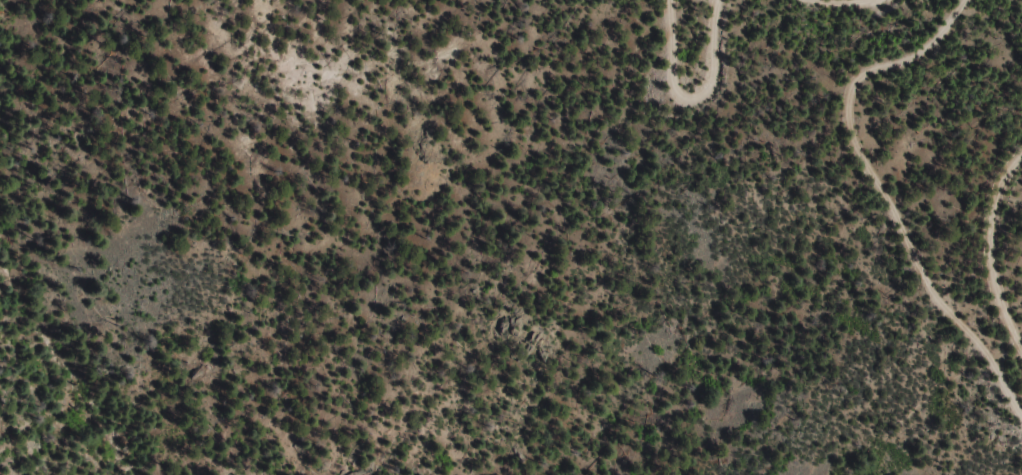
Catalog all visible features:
road: (836, 4)
road: (689, 100)
road: (883, 195)
road: (989, 254)

